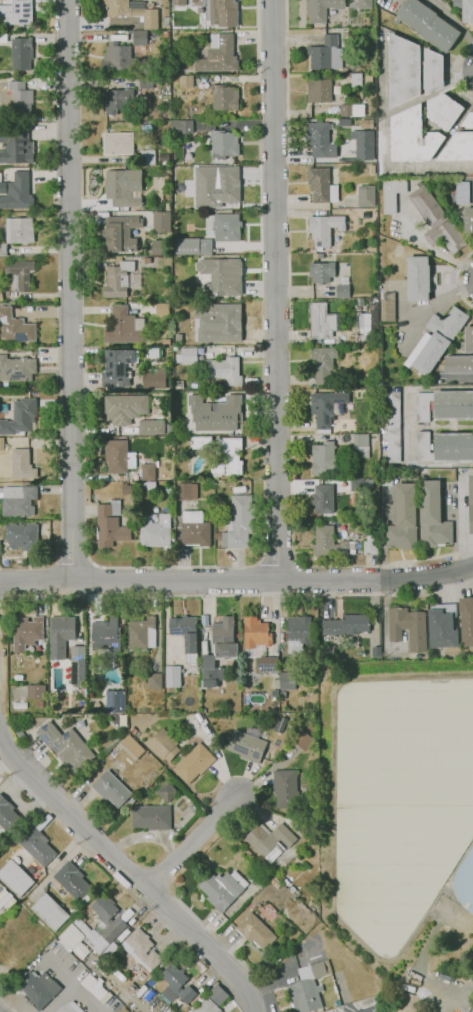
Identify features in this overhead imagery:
building: (178, 2)
building: (364, 4)
building: (321, 9)
building: (465, 9)
building: (132, 11)
building: (17, 12)
building: (221, 13)
building: (166, 21)
road: (456, 21)
building: (428, 24)
building: (165, 34)
building: (3, 37)
building: (139, 37)
building: (21, 53)
building: (326, 53)
building: (218, 54)
road: (287, 56)
building: (121, 59)
building: (403, 70)
building: (433, 71)
road: (457, 71)
building: (186, 81)
building: (356, 81)
building: (145, 82)
building: (319, 90)
building: (345, 97)
building: (21, 98)
building: (225, 98)
building: (118, 100)
building: (352, 110)
building: (444, 110)
road: (389, 111)
road: (306, 113)
building: (468, 121)
building: (367, 123)
building: (182, 126)
road: (450, 134)
building: (412, 137)
building: (320, 140)
building: (224, 143)
building: (118, 144)
building: (362, 144)
building: (16, 146)
building: (458, 148)
building: (146, 157)
building: (372, 169)
road: (405, 169)
building: (216, 185)
building: (322, 186)
building: (123, 187)
building: (17, 192)
building: (463, 193)
building: (392, 194)
building: (366, 196)
building: (467, 218)
building: (436, 220)
building: (161, 222)
building: (223, 226)
building: (324, 228)
building: (17, 232)
building: (121, 233)
building: (193, 246)
building: (322, 272)
building: (19, 274)
building: (221, 276)
building: (418, 278)
road: (459, 279)
building: (117, 280)
building: (135, 280)
road: (69, 290)
road: (275, 290)
building: (343, 291)
building: (1, 294)
building: (360, 301)
building: (388, 307)
building: (161, 308)
building: (371, 316)
building: (363, 320)
building: (322, 321)
building: (218, 322)
building: (124, 326)
building: (15, 327)
building: (178, 339)
building: (437, 340)
building: (468, 340)
building: (187, 356)
building: (323, 363)
building: (459, 364)
building: (118, 367)
building: (16, 368)
building: (226, 370)
building: (154, 380)
building: (179, 384)
building: (445, 405)
building: (326, 406)
building: (125, 408)
building: (376, 412)
building: (215, 413)
building: (20, 417)
road: (411, 425)
building: (152, 427)
building: (394, 429)
building: (202, 443)
building: (1, 444)
building: (361, 445)
building: (445, 447)
building: (118, 456)
building: (226, 457)
building: (325, 459)
building: (21, 464)
building: (6, 465)
building: (147, 471)
building: (387, 480)
building: (357, 484)
building: (150, 486)
building: (185, 491)
building: (323, 499)
building: (17, 501)
building: (471, 504)
building: (433, 516)
building: (404, 519)
building: (238, 522)
building: (109, 528)
building: (195, 529)
building: (156, 530)
building: (218, 536)
building: (22, 537)
road: (91, 541)
building: (331, 543)
building: (371, 543)
road: (277, 560)
road: (367, 564)
road: (206, 566)
road: (84, 572)
road: (273, 580)
road: (36, 581)
road: (320, 593)
road: (167, 613)
building: (204, 620)
building: (467, 620)
building: (347, 625)
building: (442, 626)
building: (406, 627)
building: (186, 631)
building: (26, 632)
building: (142, 633)
building: (256, 633)
building: (298, 633)
building: (60, 635)
building: (106, 635)
building: (219, 650)
building: (77, 669)
building: (270, 670)
building: (172, 677)
building: (288, 680)
building: (155, 681)
building: (36, 692)
building: (283, 695)
building: (114, 701)
building: (39, 704)
building: (133, 730)
building: (303, 740)
building: (163, 745)
building: (66, 746)
building: (108, 746)
building: (246, 746)
building: (131, 747)
building: (194, 763)
building: (111, 789)
building: (286, 789)
building: (167, 792)
building: (8, 816)
building: (151, 817)
building: (269, 840)
building: (36, 845)
road: (190, 845)
road: (131, 874)
building: (264, 877)
building: (15, 878)
building: (71, 881)
building: (275, 882)
building: (221, 890)
building: (267, 911)
building: (50, 912)
building: (107, 918)
building: (255, 931)
building: (71, 936)
building: (92, 937)
building: (64, 945)
building: (81, 950)
building: (142, 950)
building: (278, 956)
road: (72, 984)
building: (177, 985)
building: (308, 987)
building: (38, 989)
building: (97, 990)
building: (217, 994)
road: (60, 998)
road: (7, 1004)
building: (206, 1006)
building: (70, 1007)
parking lot: (365, 1009)
building: (124, 1010)

